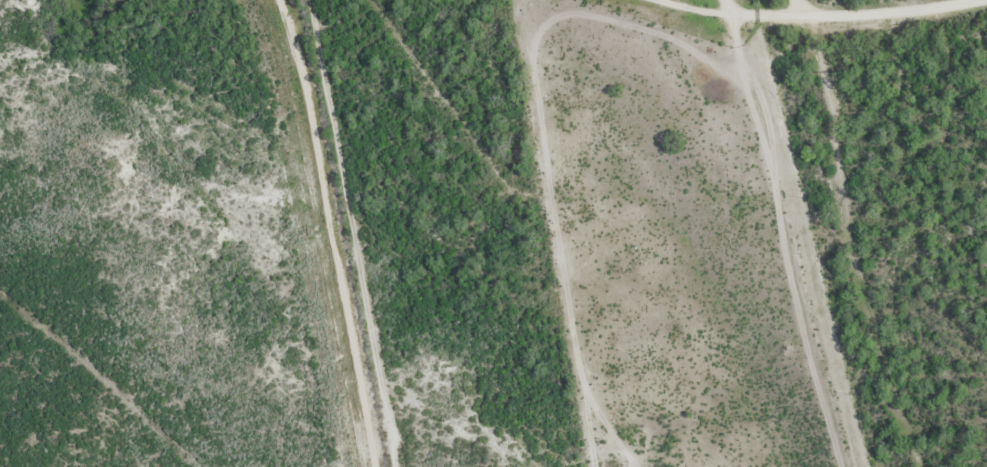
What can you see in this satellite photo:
road: (831, 21)
road: (784, 239)

